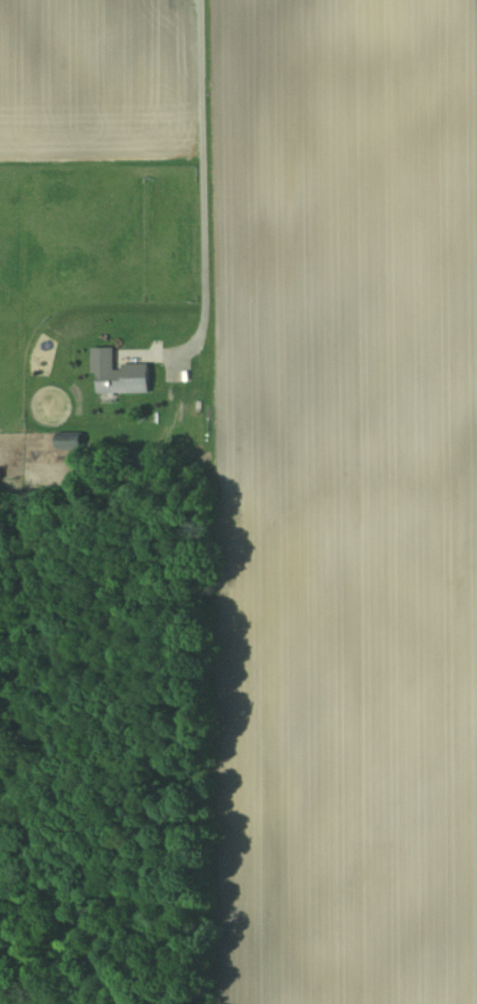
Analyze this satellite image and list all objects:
road: (201, 182)
building: (117, 373)
building: (68, 442)

